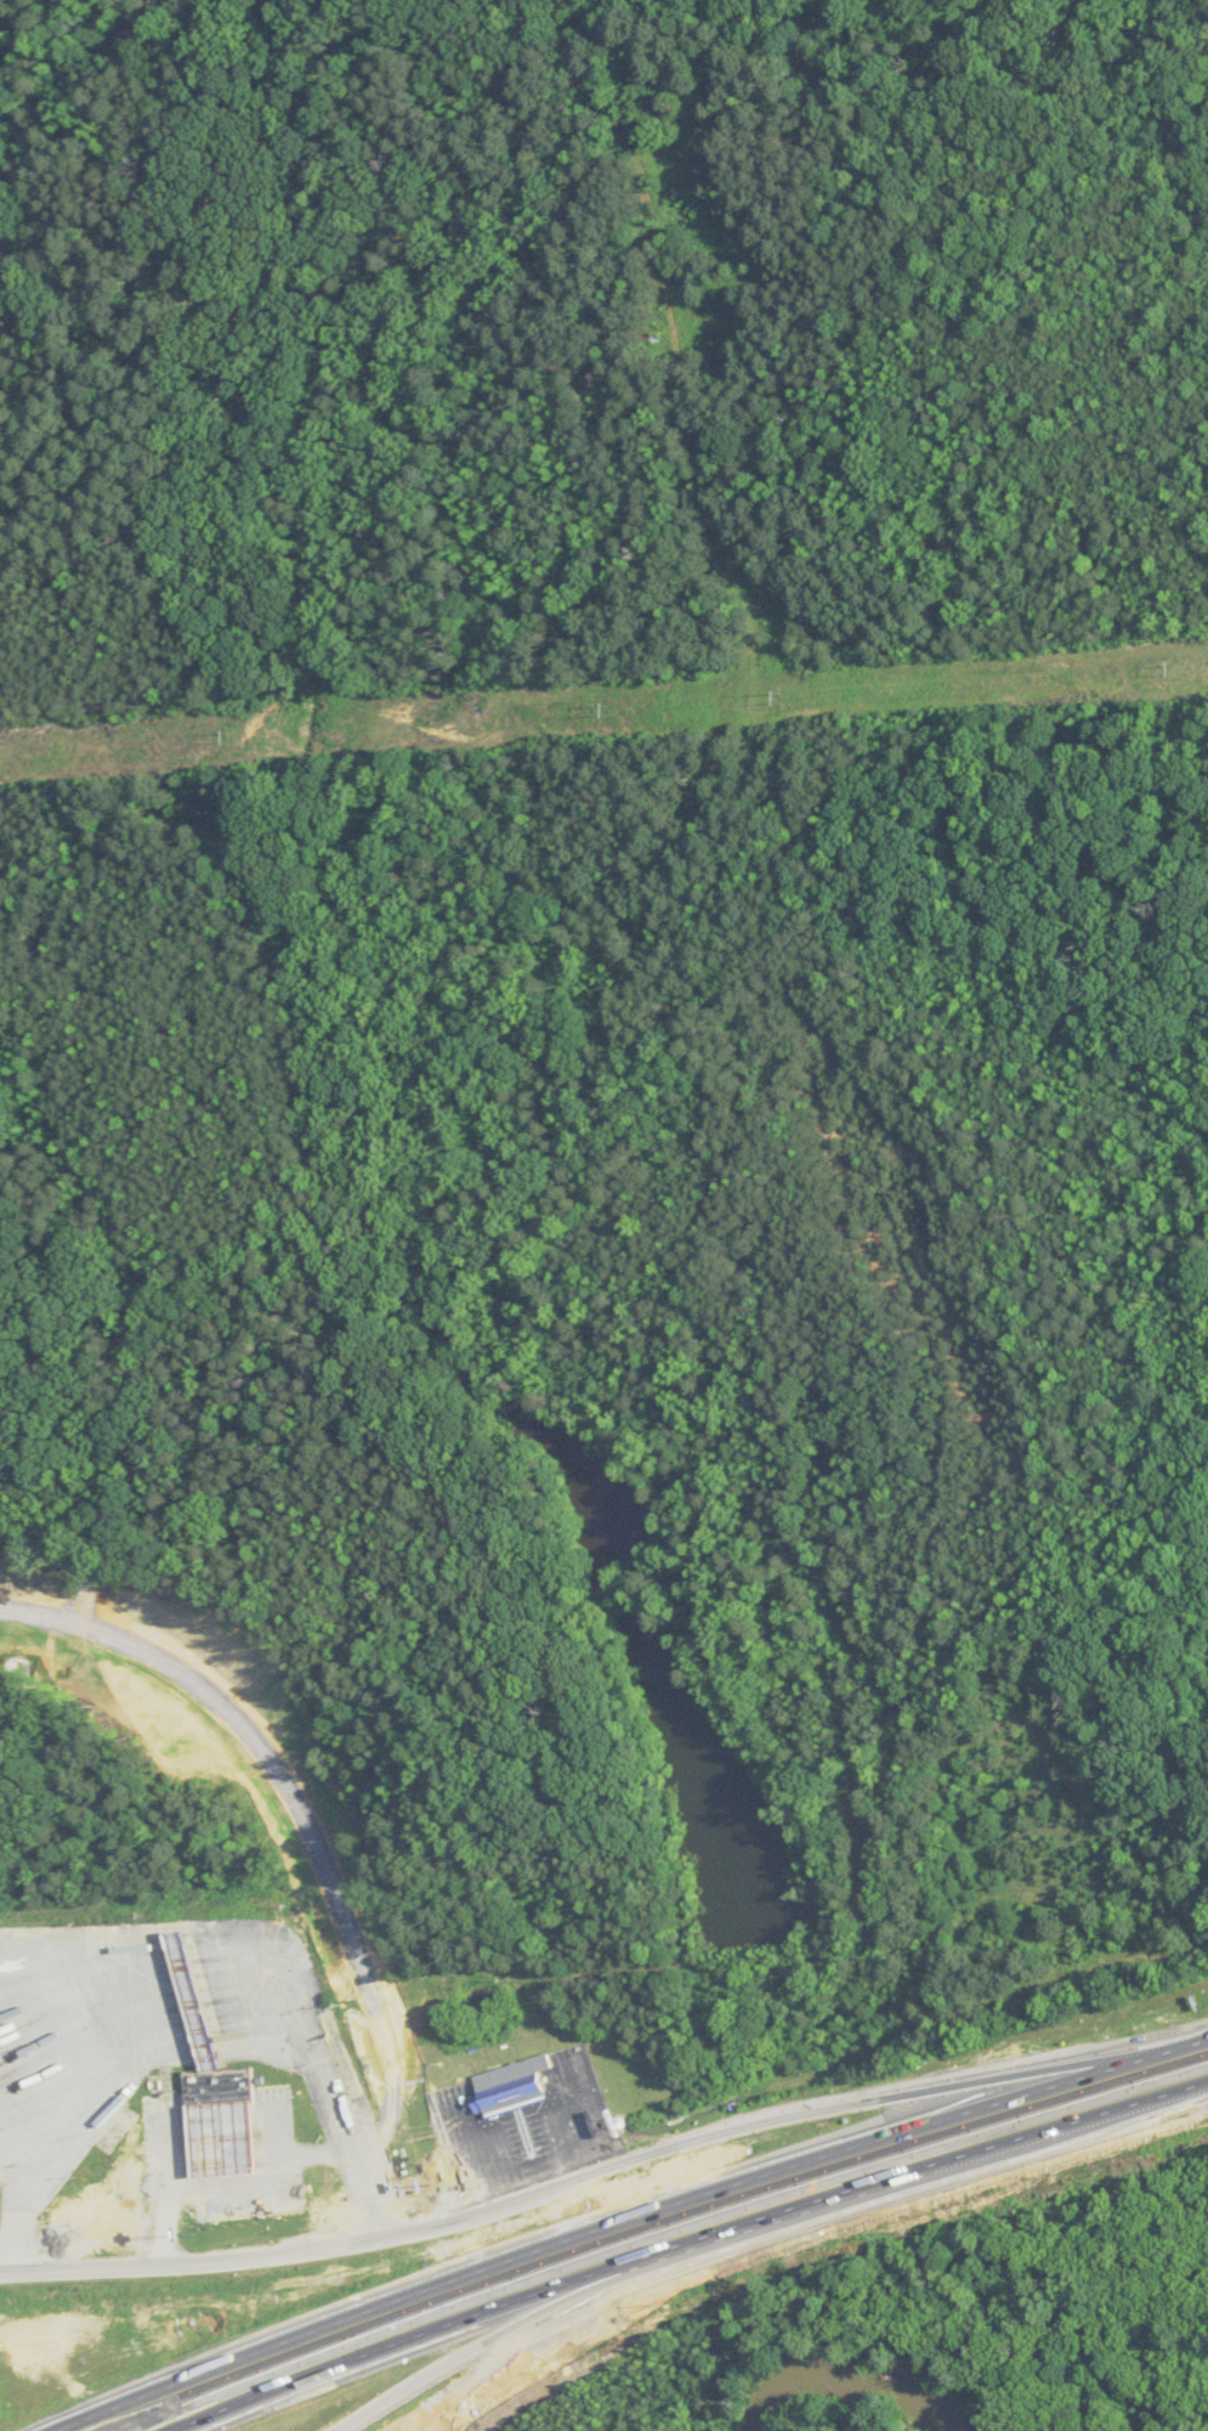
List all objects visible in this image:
power tower: (1174, 665)
power tower: (779, 696)
power tower: (607, 706)
power tower: (227, 731)
road: (299, 1773)
building: (210, 2084)
building: (509, 2085)
road: (504, 2152)
road: (603, 2158)
road: (618, 2216)
road: (685, 2243)
road: (725, 2245)

